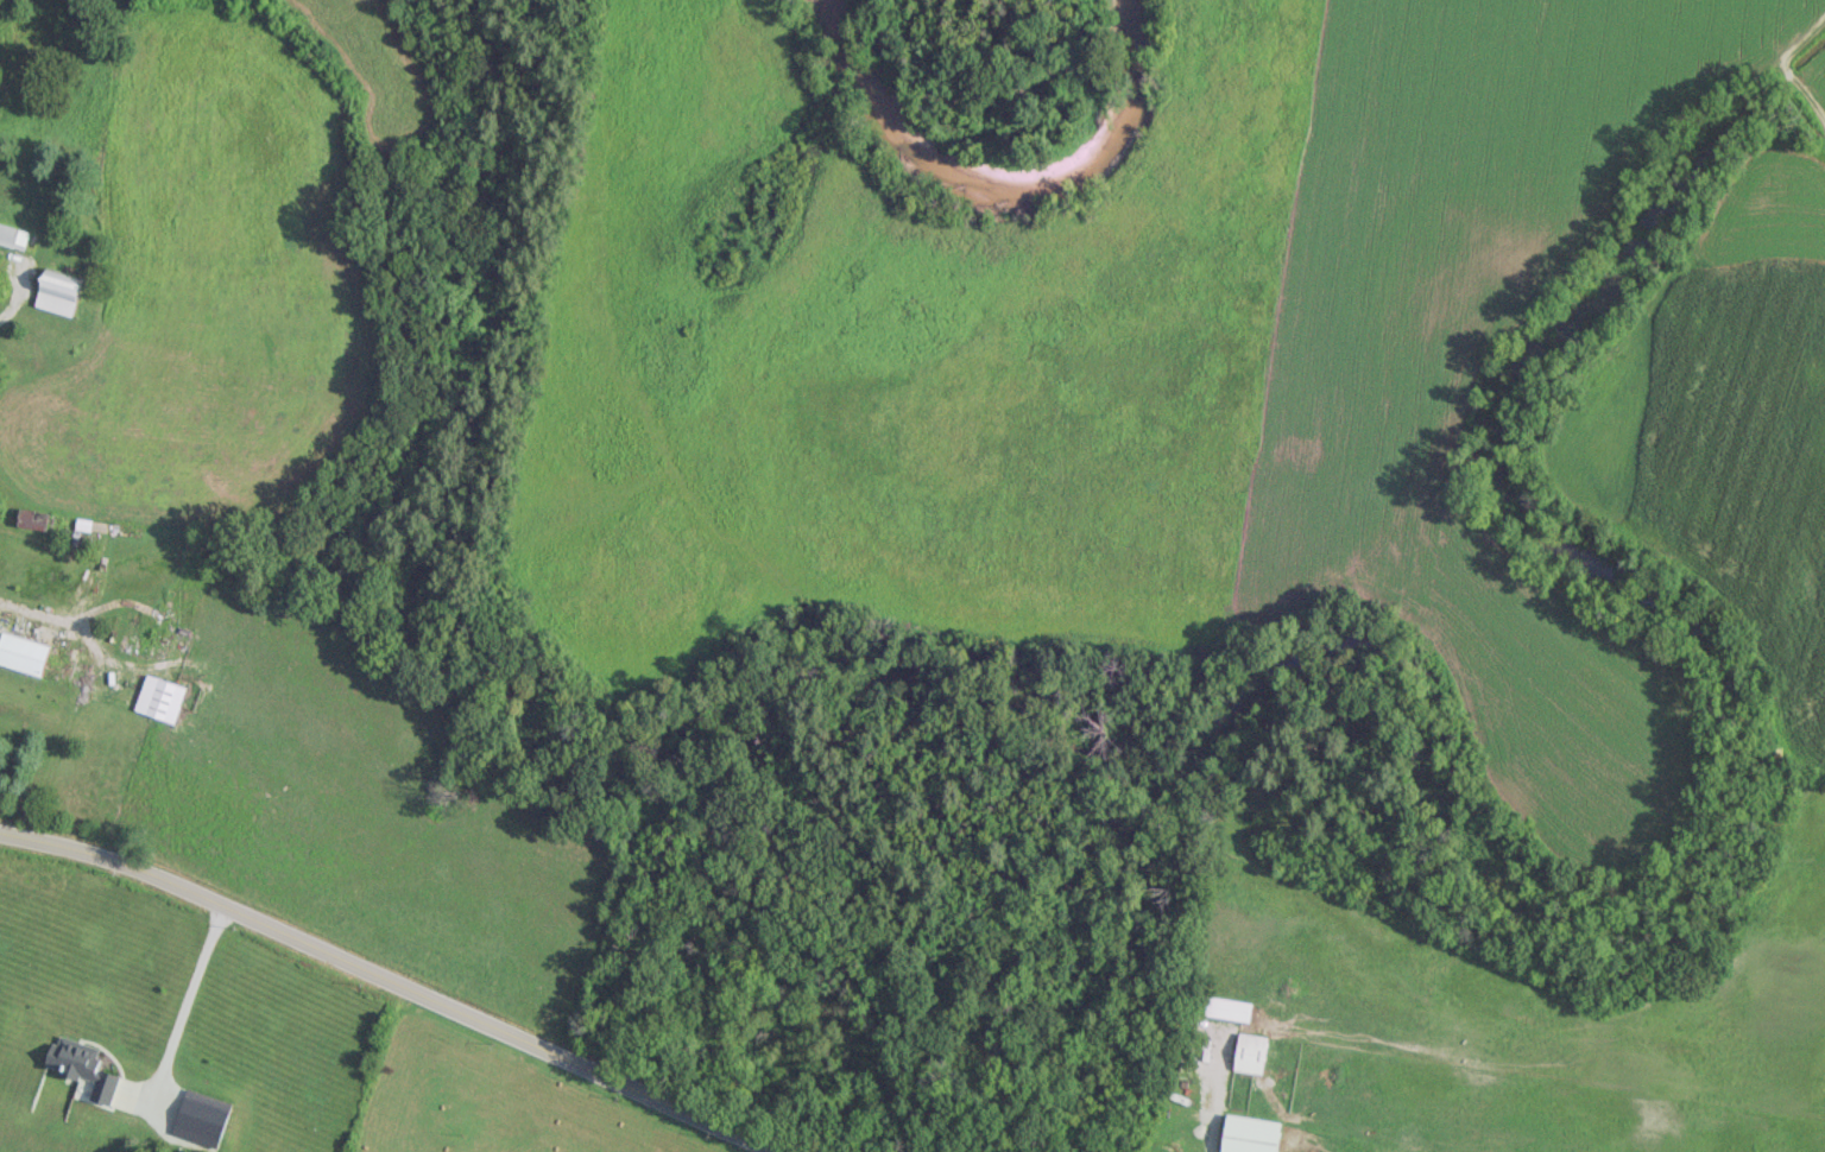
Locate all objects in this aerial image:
river: (1006, 184)
building: (13, 236)
road: (19, 278)
building: (59, 291)
building: (32, 518)
road: (37, 613)
building: (23, 653)
building: (159, 697)
road: (393, 982)
road: (185, 998)
building: (1230, 1008)
building: (1250, 1052)
building: (83, 1066)
building: (1249, 1134)

